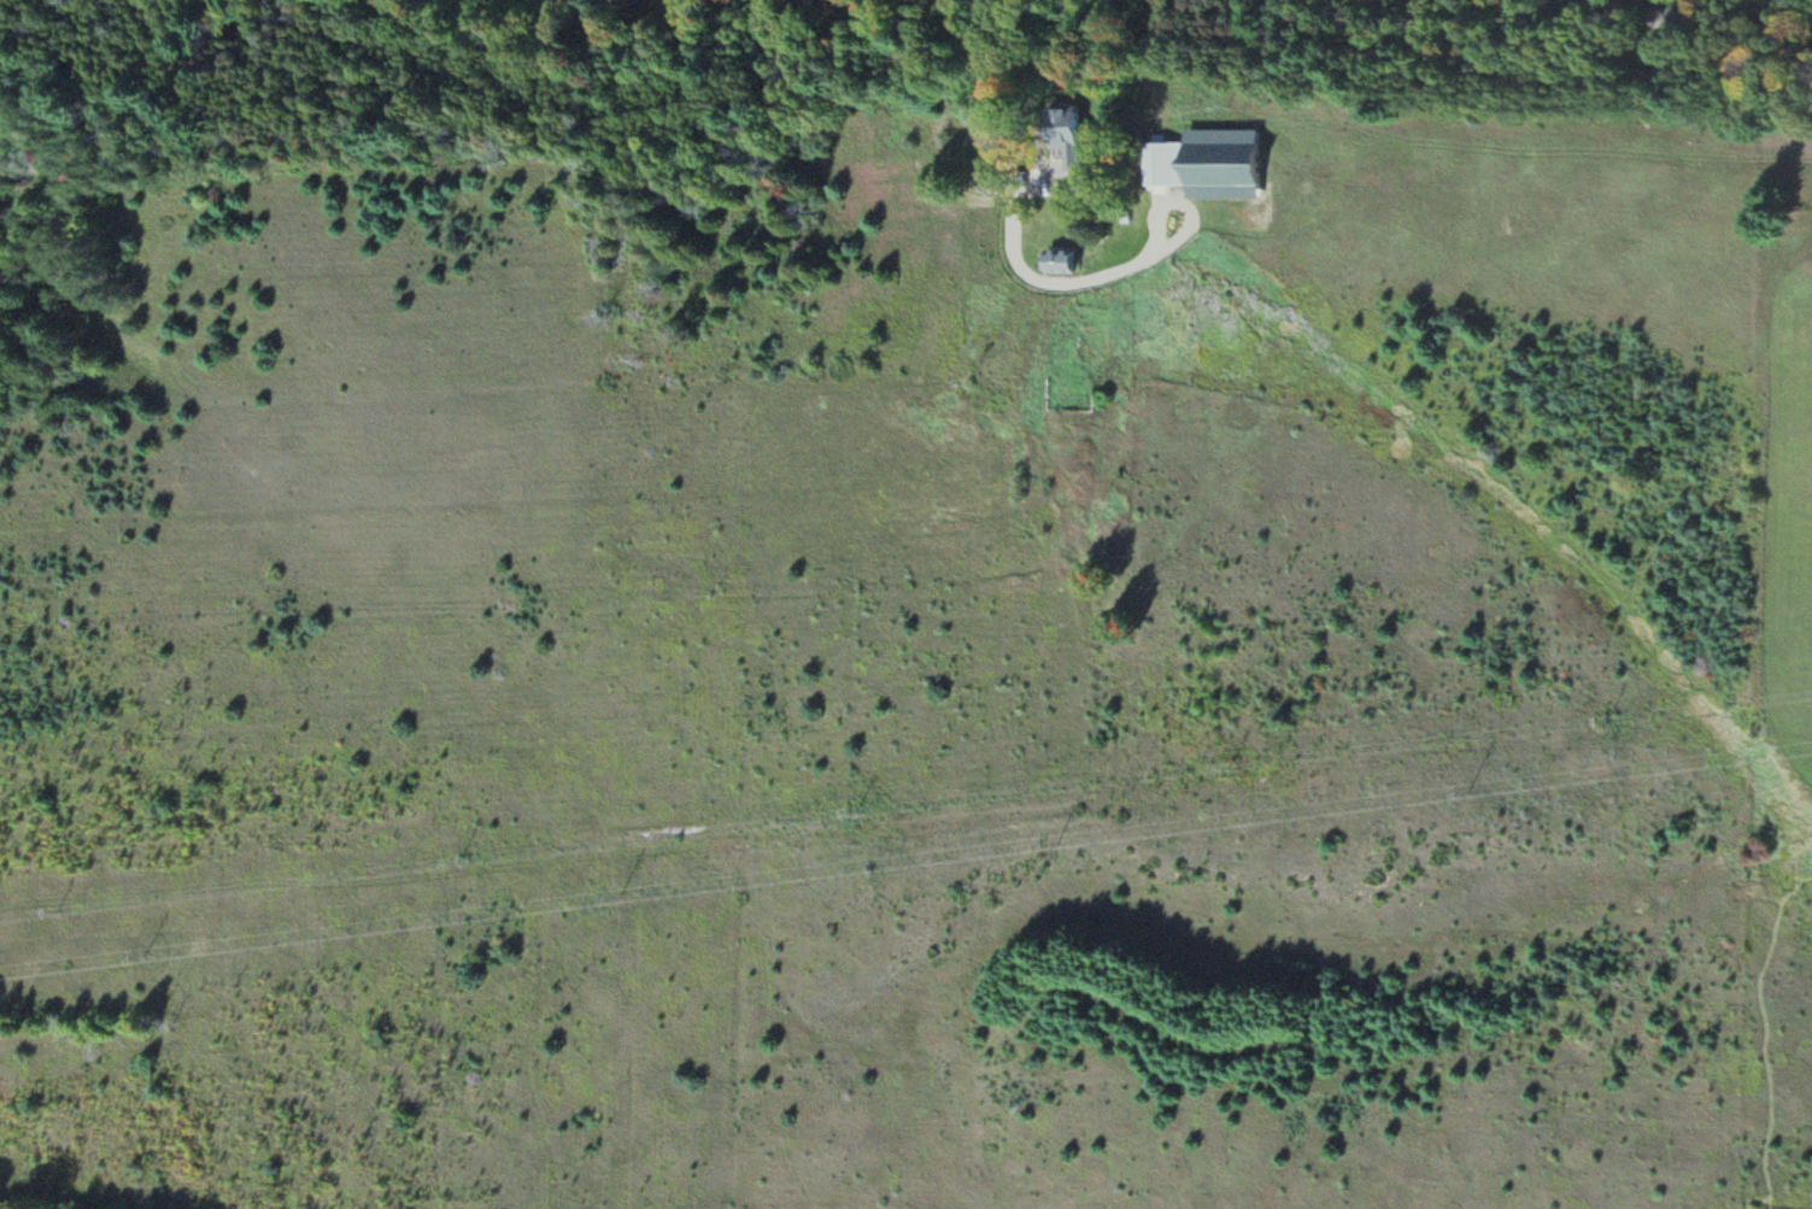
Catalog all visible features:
road: (715, 4)
building: (1599, 7)
building: (1669, 20)
building: (1069, 136)
building: (1168, 164)
building: (1063, 264)

